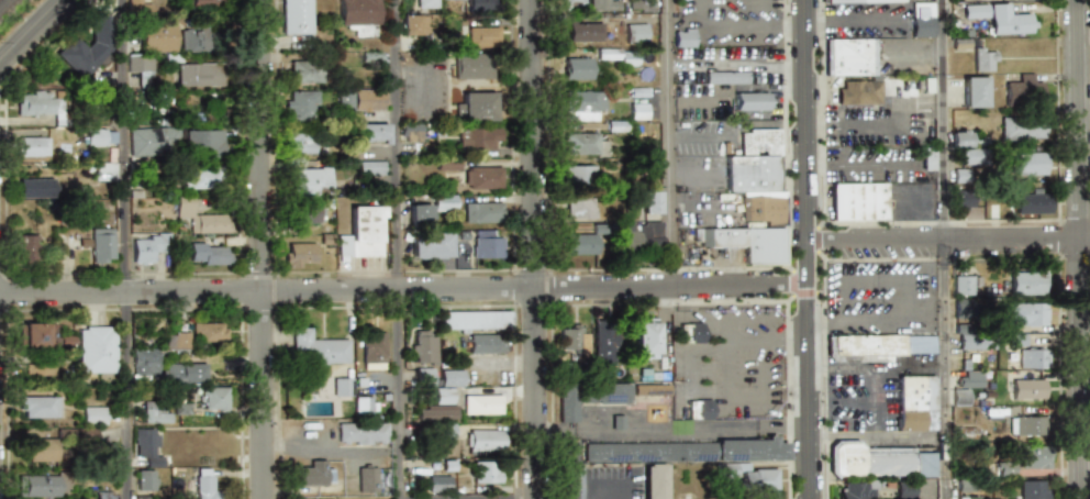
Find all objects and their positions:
railway: (0, 0)
building: (443, 0)
building: (1031, 0)
building: (572, 1)
building: (859, 1)
building: (200, 3)
building: (426, 3)
building: (485, 3)
building: (600, 4)
building: (642, 5)
building: (137, 7)
railway: (10, 10)
building: (356, 12)
building: (293, 16)
building: (1001, 18)
building: (921, 20)
building: (414, 24)
road: (30, 29)
road: (736, 29)
building: (583, 31)
building: (635, 32)
building: (158, 36)
building: (481, 36)
building: (683, 37)
building: (192, 38)
building: (86, 48)
building: (850, 57)
building: (983, 58)
building: (474, 66)
building: (142, 68)
building: (577, 68)
building: (296, 69)
road: (426, 74)
building: (198, 75)
building: (725, 77)
building: (1023, 87)
building: (972, 91)
building: (857, 92)
building: (362, 100)
building: (750, 101)
building: (41, 103)
building: (582, 104)
building: (300, 106)
building: (478, 107)
building: (638, 111)
road: (894, 114)
building: (1022, 127)
building: (372, 132)
building: (411, 132)
road: (700, 136)
building: (100, 137)
building: (959, 137)
building: (479, 140)
building: (152, 141)
building: (202, 141)
building: (300, 142)
building: (585, 143)
road: (668, 144)
building: (32, 146)
building: (966, 155)
building: (927, 158)
building: (446, 164)
building: (1028, 164)
building: (370, 167)
building: (579, 174)
building: (960, 176)
building: (482, 177)
building: (200, 178)
building: (310, 179)
building: (34, 188)
building: (754, 198)
building: (963, 199)
building: (858, 200)
building: (444, 202)
building: (649, 202)
building: (1031, 202)
building: (580, 206)
road: (701, 209)
building: (479, 212)
building: (420, 215)
building: (201, 218)
building: (305, 218)
building: (366, 231)
building: (638, 234)
road: (949, 241)
building: (579, 244)
building: (101, 245)
building: (151, 245)
building: (431, 245)
building: (487, 245)
building: (26, 248)
road: (125, 248)
road: (262, 248)
road: (398, 248)
road: (535, 248)
road: (809, 248)
road: (943, 248)
road: (1080, 248)
building: (210, 254)
building: (302, 254)
building: (1026, 284)
building: (963, 285)
road: (404, 290)
building: (1025, 313)
building: (475, 320)
road: (663, 321)
road: (839, 325)
building: (208, 331)
building: (35, 333)
building: (690, 333)
building: (570, 339)
building: (645, 339)
building: (1015, 339)
building: (176, 340)
building: (64, 341)
building: (603, 341)
building: (971, 341)
building: (486, 343)
building: (423, 345)
building: (315, 347)
building: (865, 347)
building: (96, 350)
building: (374, 350)
building: (1033, 358)
road: (727, 366)
building: (164, 369)
building: (37, 370)
road: (845, 370)
building: (424, 377)
building: (451, 377)
building: (967, 385)
building: (336, 387)
building: (1028, 388)
building: (655, 392)
building: (443, 395)
building: (213, 398)
building: (592, 401)
building: (915, 402)
building: (482, 403)
building: (38, 407)
building: (365, 408)
building: (180, 409)
building: (700, 409)
building: (155, 411)
building: (435, 412)
building: (91, 414)
building: (1030, 424)
road: (687, 429)
building: (446, 432)
building: (363, 433)
road: (877, 436)
building: (144, 437)
building: (483, 440)
building: (40, 448)
building: (689, 456)
building: (1033, 456)
building: (882, 462)
building: (1005, 466)
building: (487, 472)
building: (570, 472)
building: (314, 473)
building: (759, 477)
building: (367, 479)
building: (144, 480)
building: (440, 484)
building: (43, 485)
building: (660, 485)
building: (964, 485)
building: (205, 488)
road: (619, 488)
building: (856, 489)
building: (904, 489)
building: (1033, 489)
building: (102, 495)
building: (967, 497)

